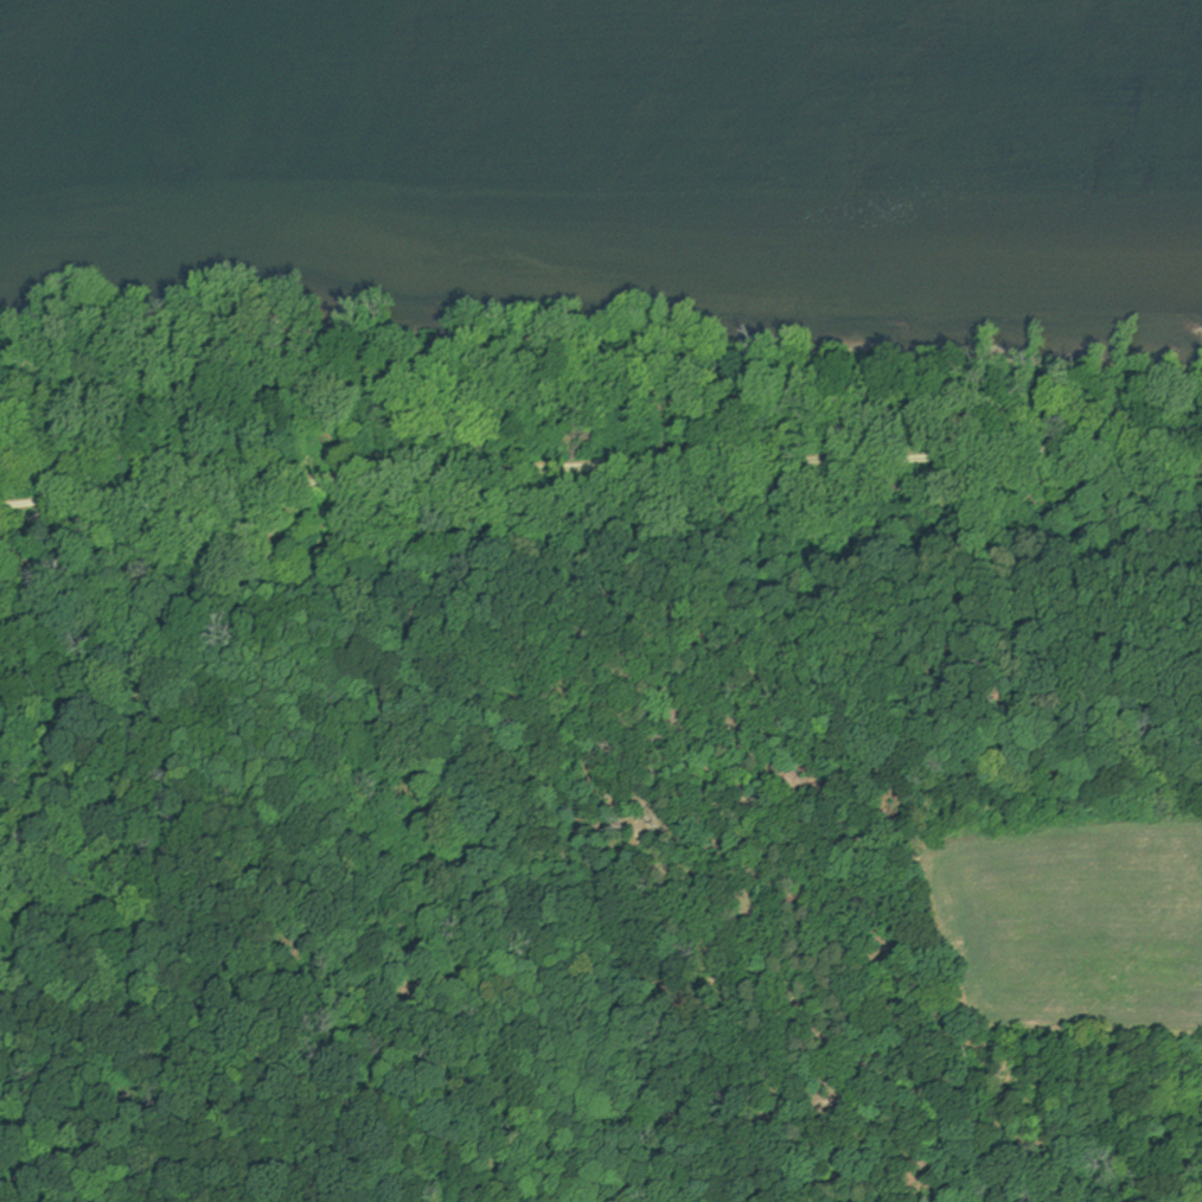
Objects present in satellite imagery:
river: (600, 51)
road: (600, 469)

